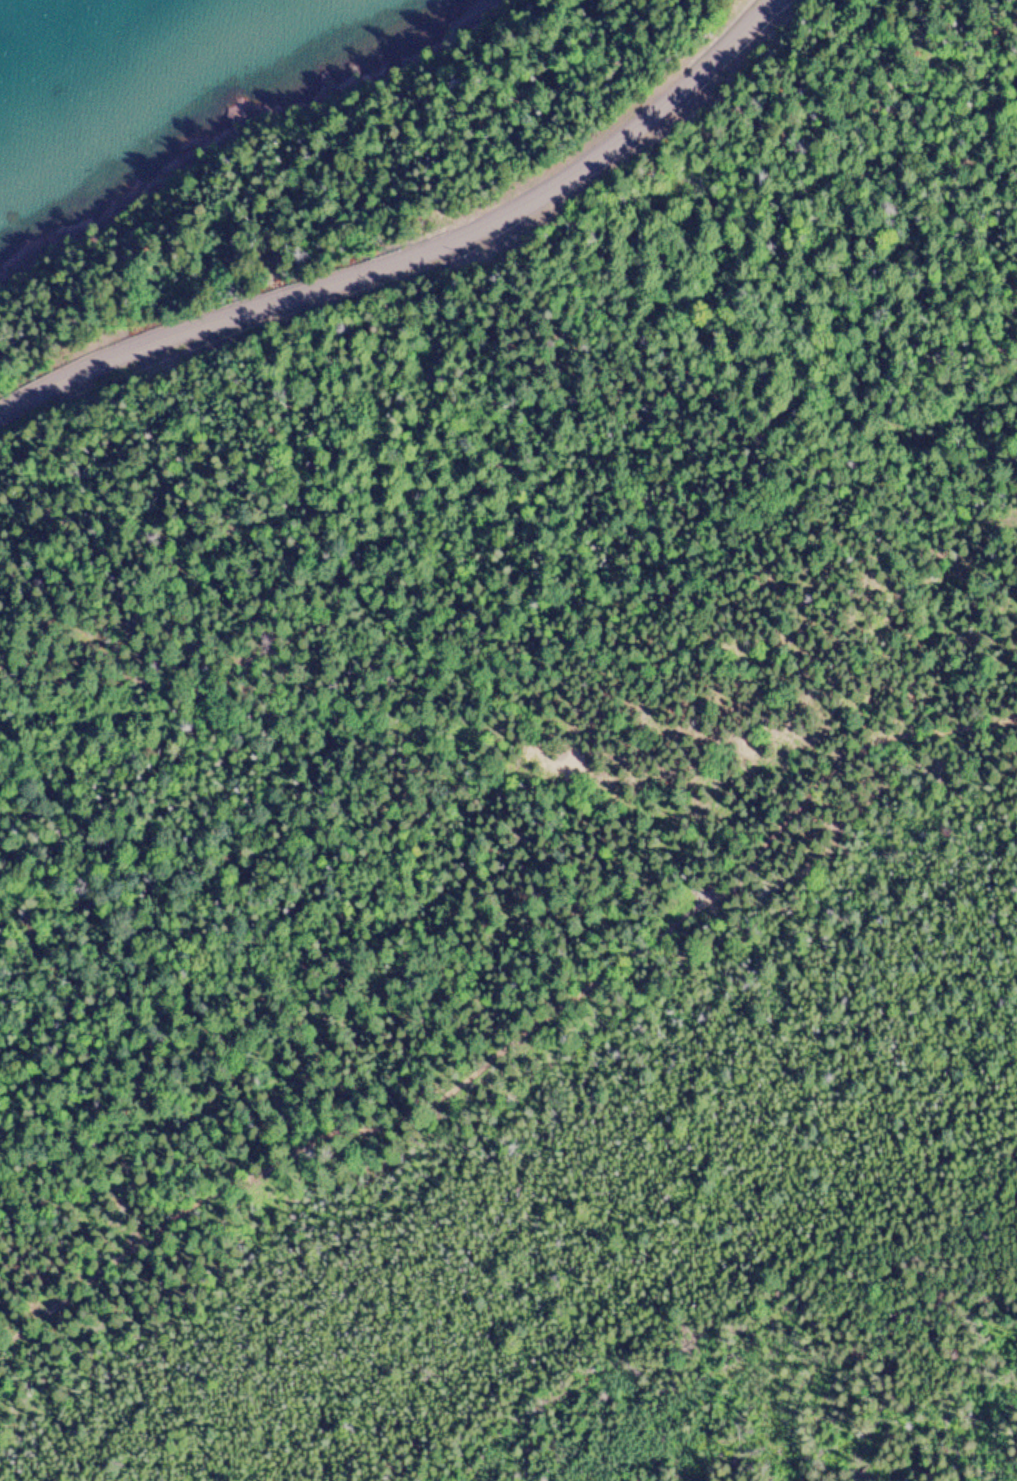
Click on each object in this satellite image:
road: (418, 258)

